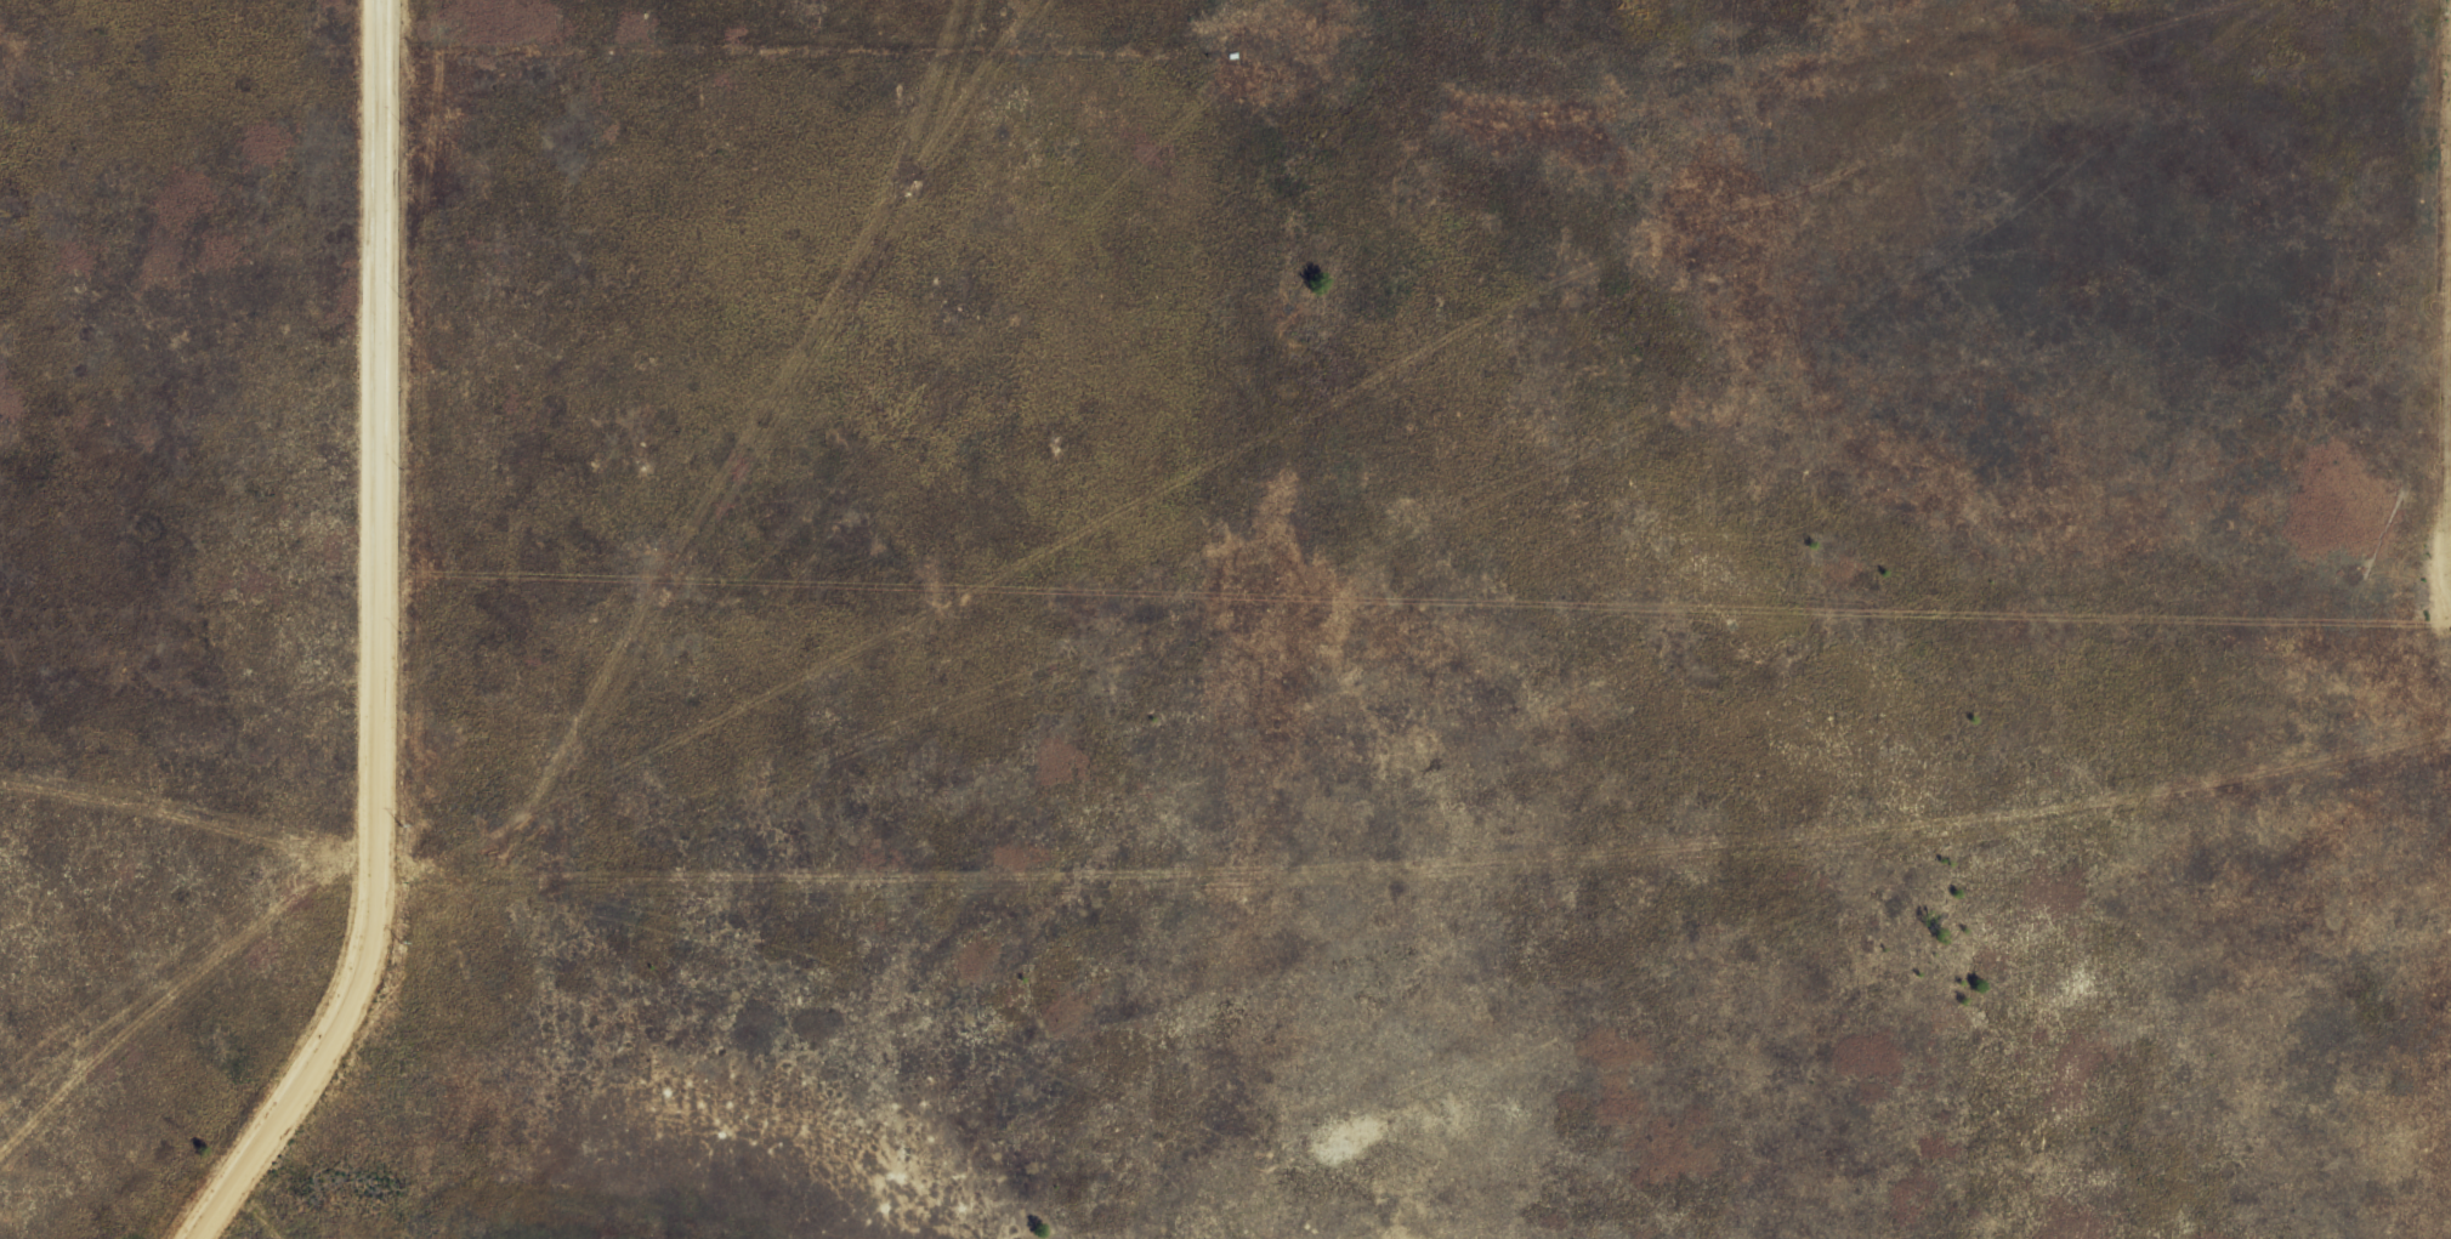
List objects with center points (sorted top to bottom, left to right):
road: (1140, 41)
road: (424, 641)

